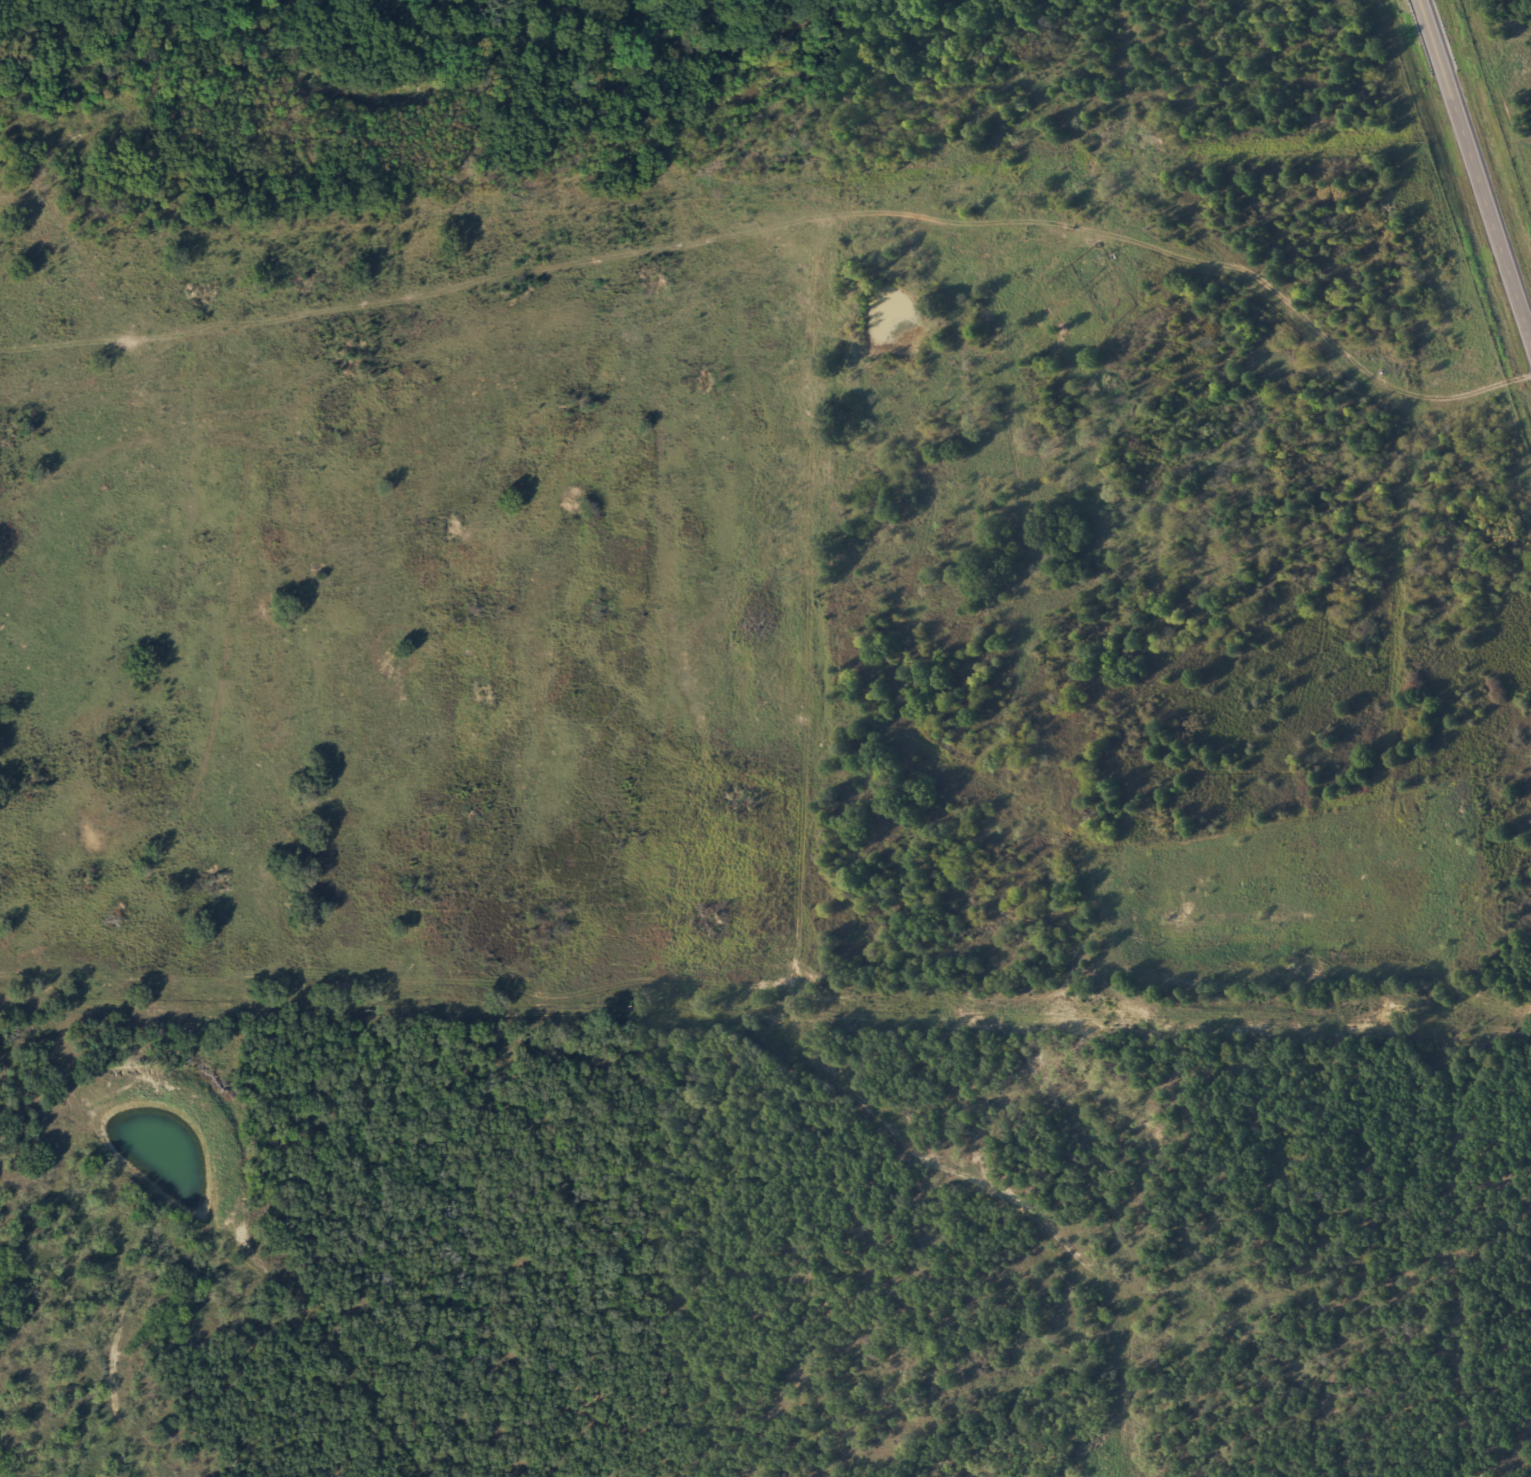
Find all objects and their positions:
road: (1476, 166)

